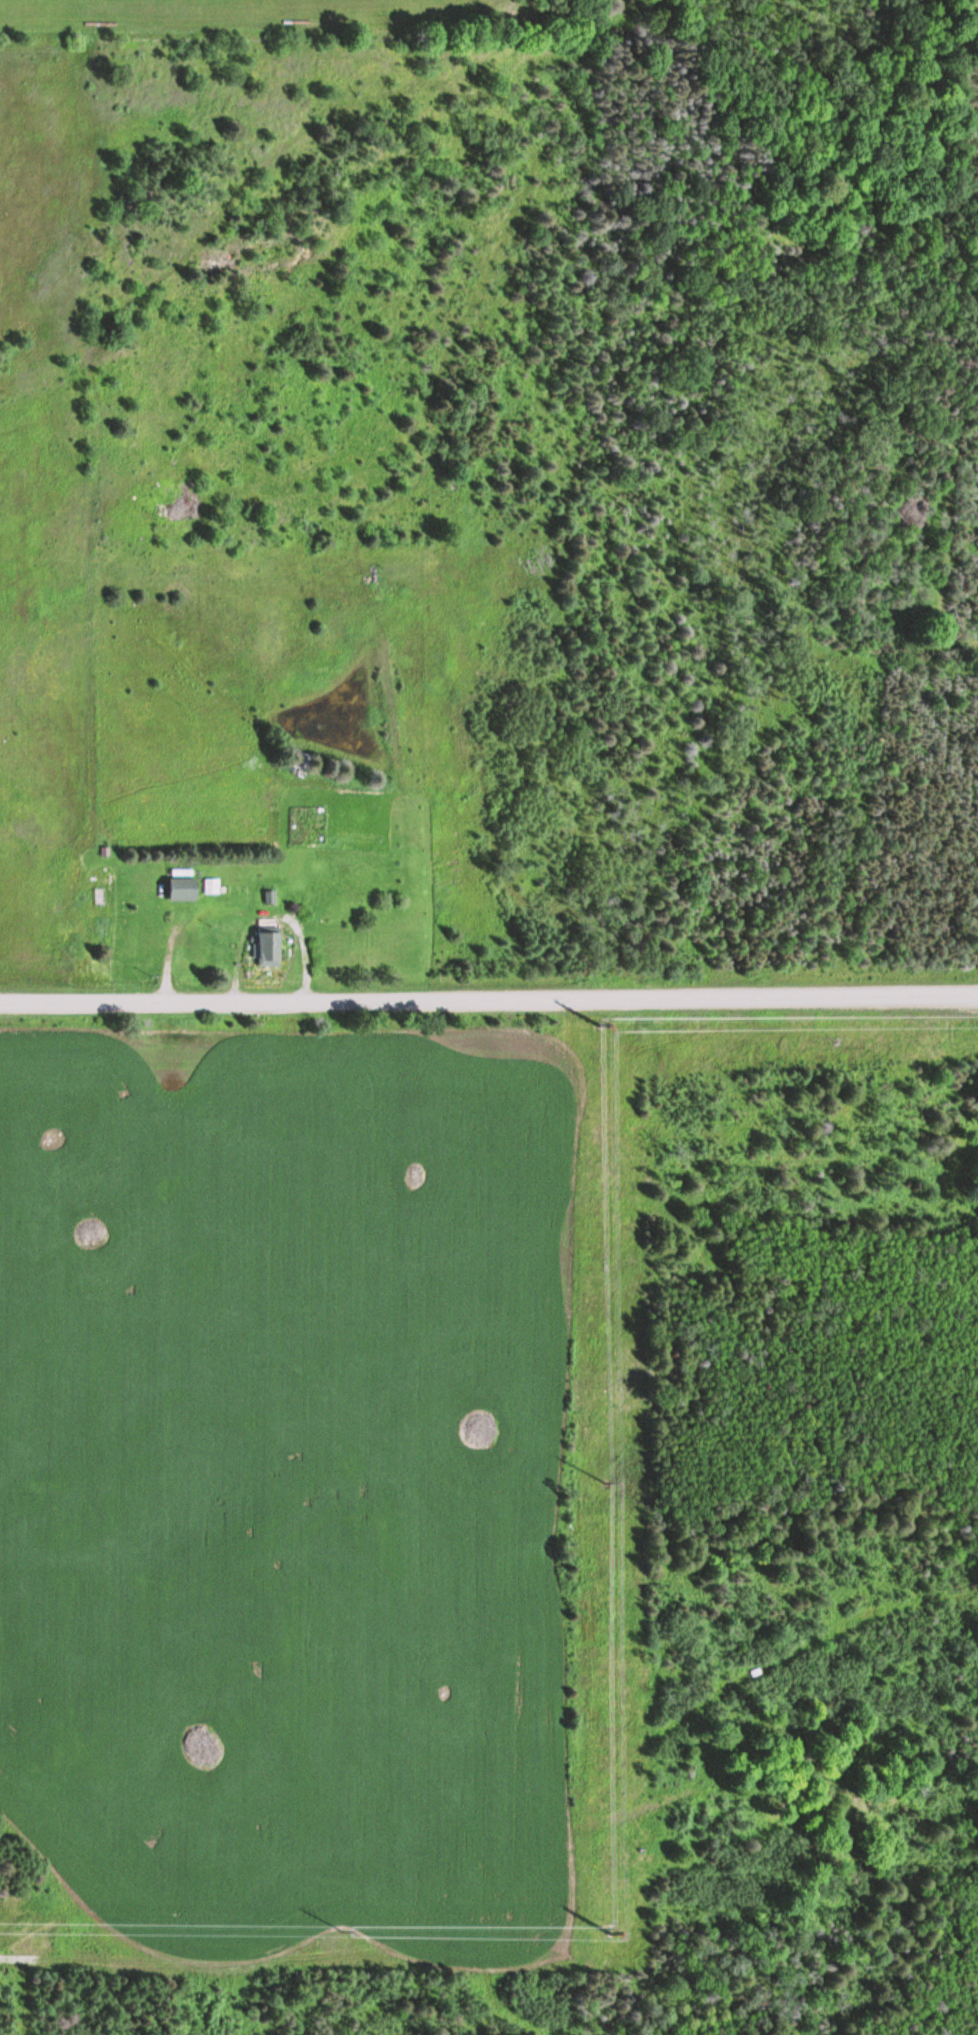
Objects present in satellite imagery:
building: (211, 887)
building: (180, 889)
building: (265, 947)
road: (489, 994)

